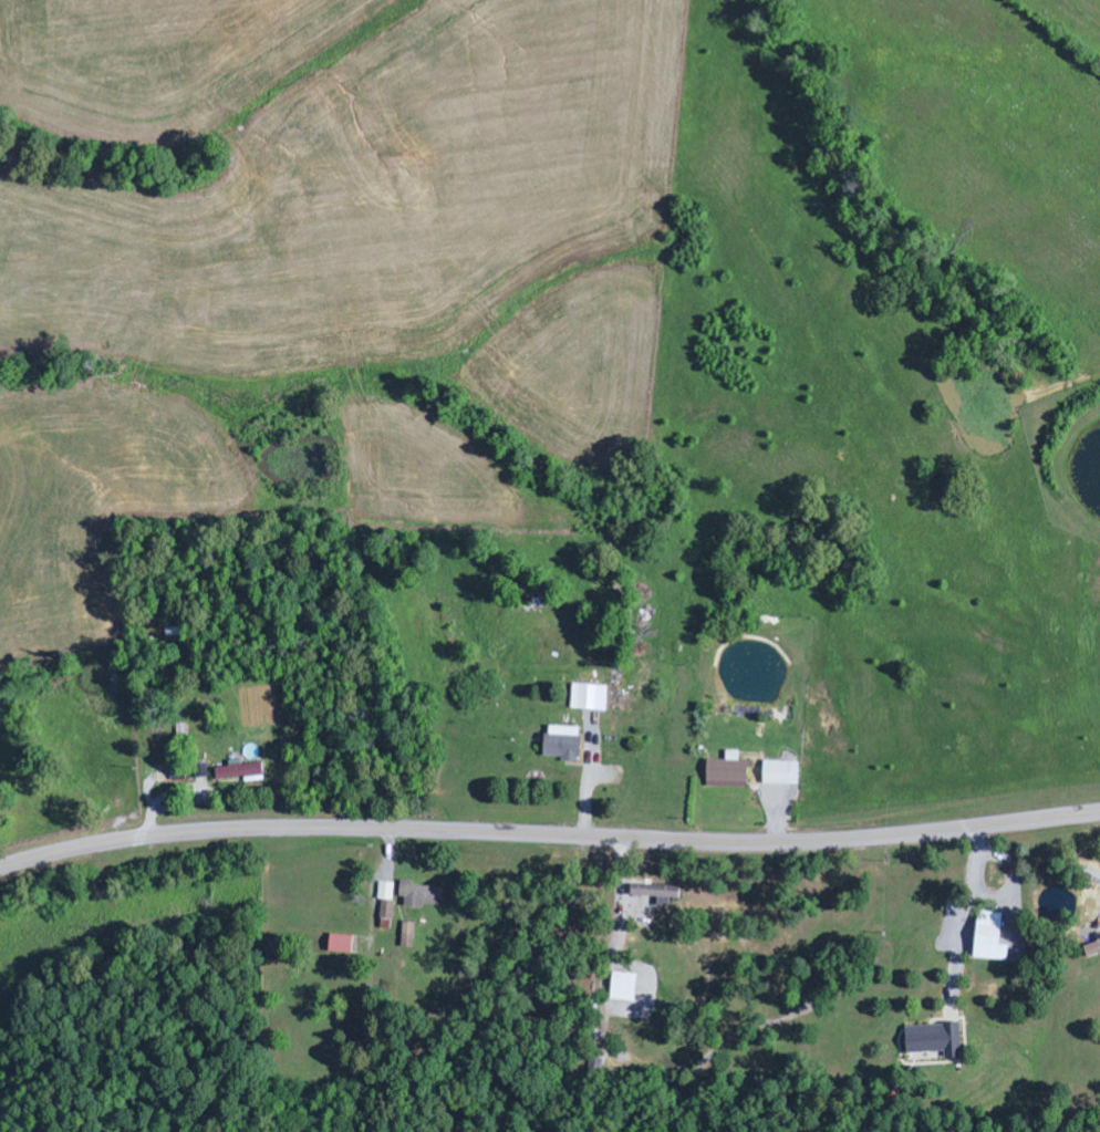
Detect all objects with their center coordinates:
building: (591, 698)
building: (565, 744)
building: (729, 771)
building: (243, 772)
building: (784, 773)
building: (180, 777)
road: (548, 833)
building: (662, 894)
building: (423, 895)
building: (390, 900)
building: (411, 935)
building: (994, 938)
building: (343, 944)
building: (1094, 952)
building: (626, 987)
building: (938, 1040)

